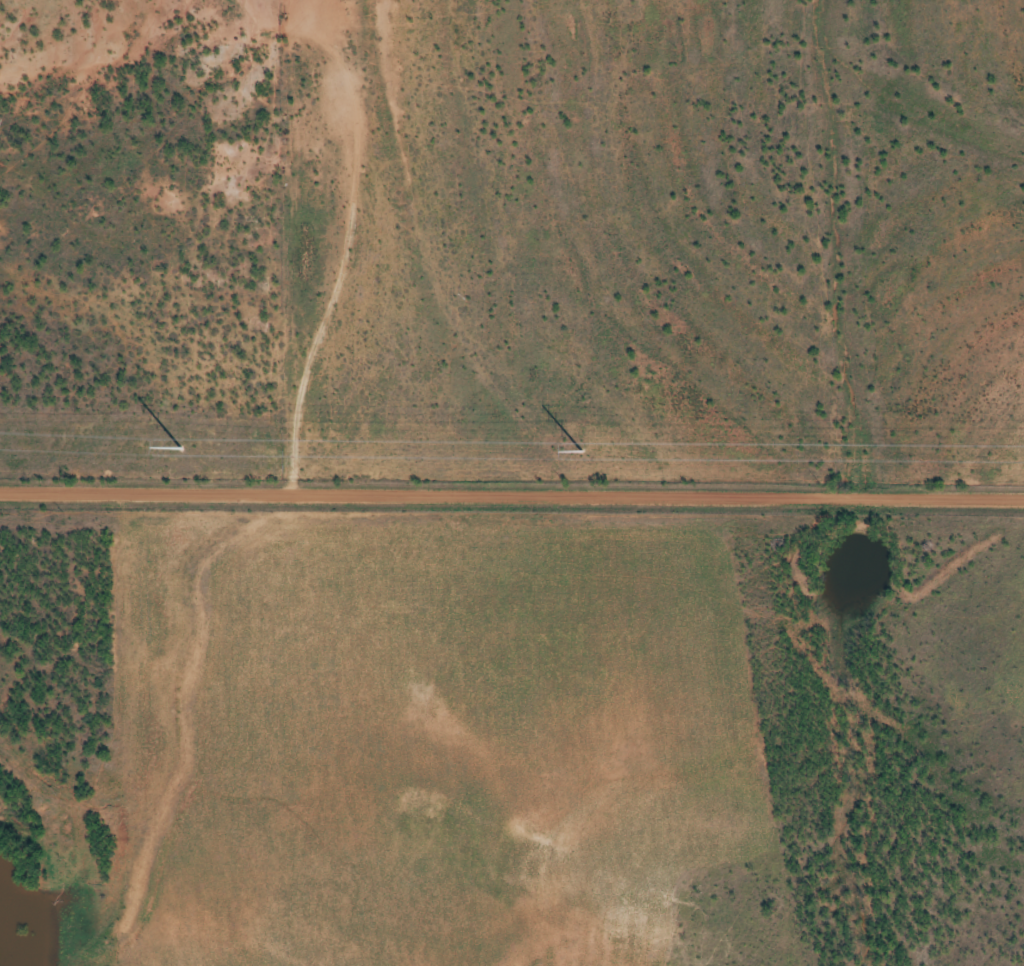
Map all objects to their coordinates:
power tower: (180, 448)
power tower: (583, 451)
road: (512, 491)
road: (126, 669)

